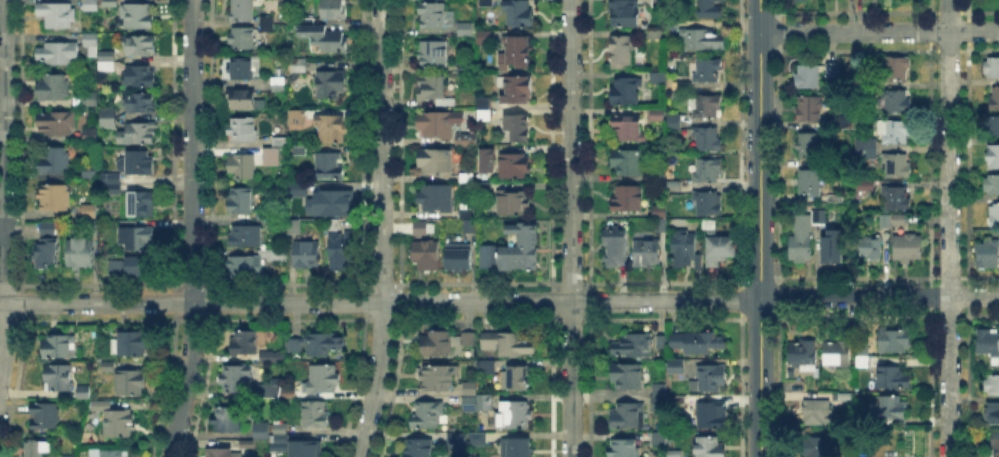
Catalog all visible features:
building: (800, 0)
building: (488, 2)
building: (111, 3)
building: (92, 5)
building: (332, 9)
building: (710, 9)
building: (242, 10)
building: (520, 14)
building: (57, 16)
building: (436, 16)
building: (625, 16)
road: (760, 16)
building: (139, 18)
building: (264, 21)
building: (465, 27)
road: (879, 31)
building: (324, 38)
building: (92, 39)
building: (701, 39)
building: (243, 40)
building: (139, 46)
building: (94, 51)
building: (519, 52)
building: (58, 54)
building: (622, 54)
building: (433, 55)
building: (108, 56)
building: (299, 63)
building: (104, 64)
building: (897, 68)
building: (993, 68)
building: (241, 70)
building: (709, 71)
building: (832, 71)
building: (808, 77)
building: (139, 78)
building: (656, 78)
building: (278, 84)
building: (331, 85)
building: (54, 89)
building: (432, 89)
building: (517, 90)
building: (626, 92)
building: (91, 100)
building: (243, 100)
building: (994, 100)
building: (899, 102)
building: (139, 103)
building: (447, 105)
building: (708, 107)
building: (811, 110)
building: (296, 113)
building: (657, 114)
building: (483, 116)
building: (109, 119)
building: (840, 122)
building: (57, 124)
building: (674, 124)
building: (439, 125)
building: (992, 127)
building: (517, 128)
building: (332, 129)
building: (630, 129)
building: (242, 130)
building: (896, 133)
building: (90, 134)
building: (139, 135)
building: (709, 139)
building: (467, 140)
building: (279, 142)
building: (809, 146)
building: (868, 148)
building: (299, 149)
building: (270, 156)
building: (484, 158)
building: (994, 158)
building: (54, 161)
building: (437, 162)
building: (628, 163)
building: (138, 164)
building: (513, 166)
road: (760, 166)
building: (897, 166)
building: (243, 167)
building: (332, 167)
building: (90, 171)
building: (707, 172)
building: (659, 175)
building: (466, 177)
building: (111, 179)
building: (810, 183)
road: (3, 184)
building: (992, 184)
building: (486, 186)
building: (295, 187)
building: (115, 189)
building: (85, 197)
building: (56, 198)
building: (438, 199)
building: (629, 199)
building: (897, 199)
building: (241, 201)
building: (707, 202)
building: (331, 203)
building: (514, 203)
building: (142, 206)
building: (467, 210)
building: (89, 211)
building: (658, 212)
building: (267, 213)
building: (994, 215)
building: (820, 217)
building: (899, 219)
building: (885, 220)
building: (279, 224)
building: (469, 226)
building: (661, 226)
building: (294, 228)
building: (422, 228)
road: (571, 228)
road: (949, 228)
road: (192, 229)
road: (381, 229)
building: (137, 237)
building: (246, 237)
building: (801, 241)
building: (909, 246)
building: (48, 247)
building: (833, 247)
building: (871, 247)
building: (520, 248)
building: (615, 248)
building: (684, 249)
building: (720, 250)
building: (341, 251)
building: (647, 254)
building: (81, 256)
building: (307, 256)
building: (427, 256)
building: (988, 256)
building: (459, 258)
building: (487, 258)
building: (140, 266)
building: (246, 268)
road: (879, 297)
road: (380, 302)
building: (468, 339)
building: (438, 342)
building: (661, 342)
building: (896, 342)
building: (245, 343)
building: (698, 343)
building: (988, 343)
building: (324, 344)
building: (133, 345)
building: (634, 345)
building: (508, 346)
building: (60, 347)
building: (296, 347)
building: (804, 354)
building: (863, 354)
building: (839, 355)
building: (272, 356)
building: (107, 366)
building: (486, 368)
building: (677, 368)
building: (628, 377)
building: (893, 377)
building: (60, 378)
building: (237, 378)
road: (761, 378)
building: (438, 379)
building: (517, 379)
building: (710, 379)
building: (321, 380)
building: (133, 382)
building: (992, 385)
building: (269, 387)
building: (472, 388)
building: (659, 389)
building: (288, 391)
building: (86, 392)
building: (845, 395)
building: (679, 399)
building: (470, 403)
building: (658, 403)
building: (102, 405)
building: (893, 408)
building: (817, 411)
building: (993, 414)
building: (314, 415)
building: (47, 416)
building: (428, 416)
building: (514, 416)
building: (629, 416)
building: (711, 416)
building: (229, 422)
building: (121, 425)
building: (281, 429)
building: (263, 433)
building: (455, 438)
building: (478, 438)
building: (282, 440)
building: (658, 440)
building: (996, 443)
building: (709, 447)
building: (819, 447)
building: (418, 448)
building: (515, 448)
building: (39, 449)
building: (625, 449)
building: (306, 450)
building: (109, 453)
building: (675, 453)
building: (220, 454)
building: (863, 456)

